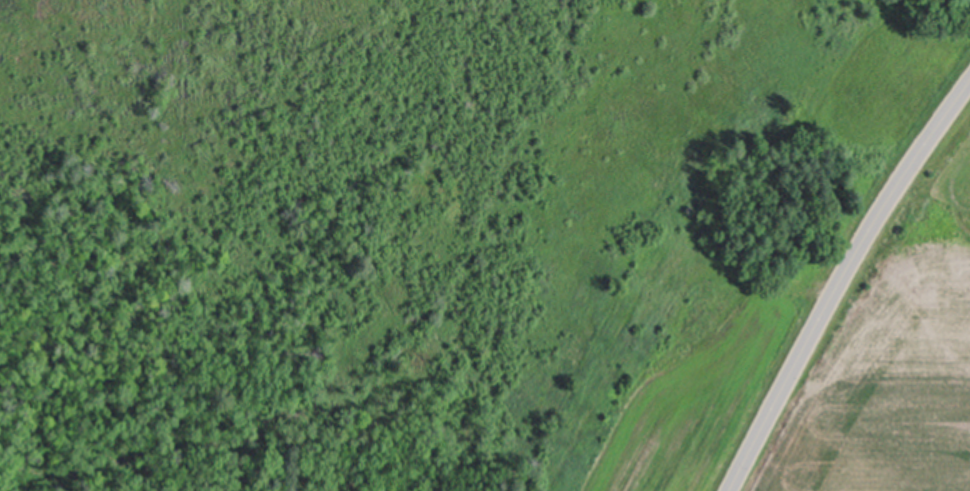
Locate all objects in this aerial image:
road: (842, 283)

